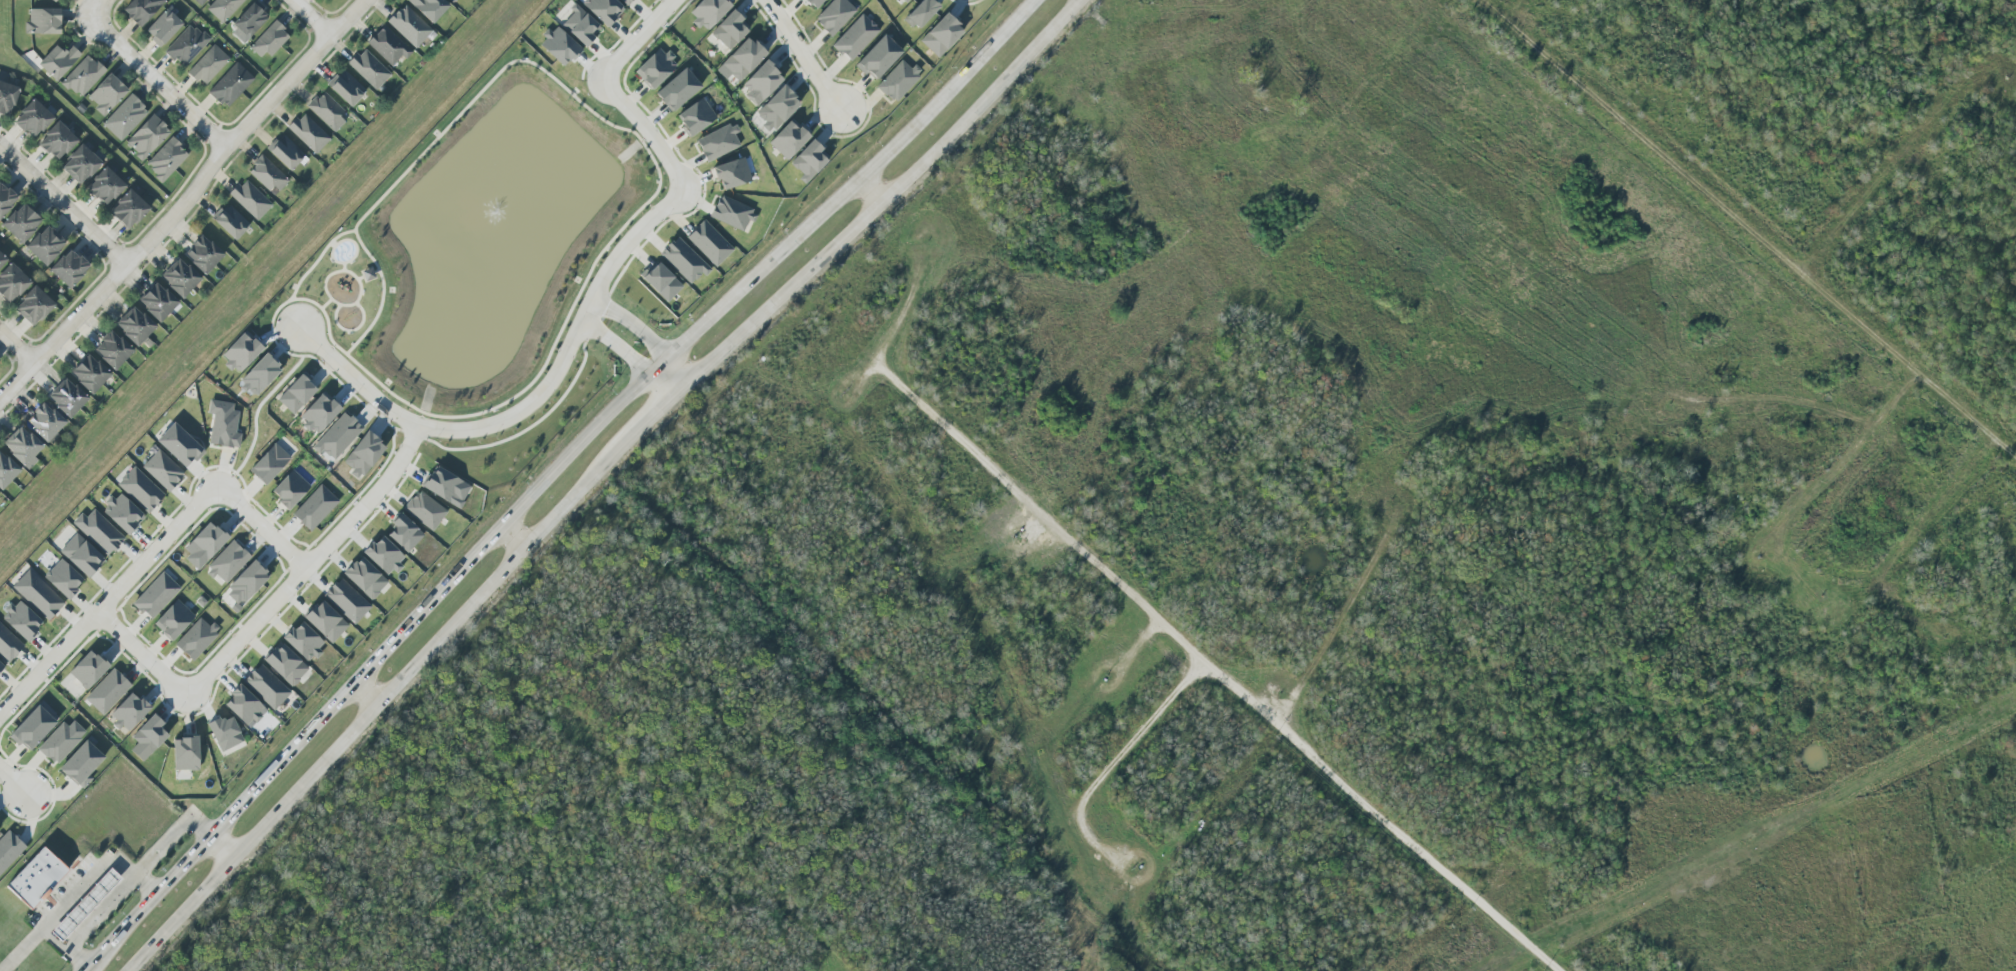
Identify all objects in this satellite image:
building: (54, 1)
building: (451, 1)
building: (904, 1)
building: (199, 2)
building: (626, 2)
building: (814, 3)
road: (966, 3)
road: (96, 8)
building: (223, 8)
building: (429, 8)
building: (603, 9)
building: (142, 10)
building: (708, 12)
building: (921, 13)
building: (834, 16)
road: (312, 17)
building: (250, 19)
building: (42, 21)
building: (580, 25)
building: (409, 26)
building: (163, 28)
building: (729, 30)
building: (941, 35)
building: (854, 37)
building: (269, 40)
road: (617, 40)
road: (635, 40)
building: (186, 45)
building: (388, 46)
building: (559, 46)
road: (802, 55)
building: (878, 57)
building: (744, 58)
building: (58, 61)
building: (208, 65)
building: (655, 68)
building: (369, 69)
building: (82, 76)
building: (762, 80)
building: (898, 80)
road: (157, 82)
building: (230, 85)
building: (345, 88)
building: (1, 89)
building: (678, 89)
building: (107, 94)
building: (8, 99)
building: (777, 109)
building: (326, 111)
building: (28, 114)
building: (125, 117)
building: (695, 117)
building: (38, 124)
road: (645, 131)
building: (308, 133)
building: (52, 135)
road: (850, 135)
building: (147, 137)
building: (789, 140)
building: (718, 142)
road: (432, 144)
building: (62, 145)
building: (284, 152)
road: (681, 158)
building: (76, 159)
building: (166, 159)
building: (808, 161)
building: (86, 168)
building: (731, 173)
building: (267, 174)
building: (100, 181)
road: (867, 189)
building: (2, 190)
building: (110, 191)
building: (250, 199)
building: (5, 202)
road: (184, 202)
building: (123, 204)
road: (63, 205)
building: (732, 213)
building: (133, 214)
building: (16, 218)
building: (230, 222)
building: (26, 227)
road: (1748, 227)
building: (39, 241)
building: (709, 243)
building: (49, 250)
building: (208, 250)
road: (354, 255)
building: (2, 260)
building: (198, 260)
road: (318, 260)
building: (683, 260)
building: (64, 264)
road: (343, 267)
road: (376, 272)
building: (74, 273)
building: (184, 273)
building: (368, 275)
road: (368, 275)
building: (7, 276)
road: (360, 278)
building: (660, 282)
building: (174, 283)
road: (358, 283)
building: (14, 288)
building: (162, 298)
building: (29, 300)
building: (152, 307)
building: (39, 310)
road: (581, 319)
building: (140, 321)
road: (897, 323)
road: (349, 330)
building: (130, 331)
road: (645, 337)
road: (330, 339)
building: (118, 346)
road: (17, 347)
building: (241, 352)
building: (108, 356)
road: (630, 358)
building: (95, 369)
building: (259, 375)
building: (85, 379)
building: (71, 393)
building: (296, 394)
road: (373, 401)
building: (62, 403)
road: (257, 409)
building: (319, 413)
building: (50, 417)
building: (223, 425)
building: (40, 427)
building: (337, 436)
building: (27, 442)
building: (179, 446)
building: (19, 453)
building: (363, 454)
building: (269, 464)
building: (8, 467)
road: (395, 469)
building: (162, 470)
road: (548, 477)
road: (595, 478)
building: (3, 480)
building: (446, 487)
building: (290, 489)
building: (139, 490)
building: (315, 507)
building: (424, 510)
building: (123, 513)
building: (98, 531)
road: (153, 533)
building: (404, 533)
road: (510, 539)
building: (204, 545)
road: (150, 554)
building: (80, 555)
building: (384, 555)
building: (228, 562)
building: (364, 578)
building: (62, 579)
building: (246, 584)
road: (139, 585)
road: (267, 592)
building: (37, 594)
building: (156, 595)
building: (346, 601)
road: (1349, 615)
building: (21, 620)
building: (174, 620)
building: (325, 621)
road: (241, 629)
road: (260, 635)
building: (196, 638)
building: (303, 641)
building: (8, 645)
road: (233, 645)
road: (1137, 647)
building: (285, 664)
building: (1, 667)
building: (88, 669)
road: (1219, 673)
building: (266, 686)
building: (108, 692)
road: (363, 694)
building: (245, 706)
building: (129, 712)
building: (33, 728)
building: (224, 733)
building: (149, 734)
building: (61, 742)
building: (185, 753)
road: (4, 755)
building: (82, 763)
road: (1115, 771)
road: (13, 781)
road: (53, 802)
road: (169, 834)
road: (219, 848)
building: (8, 849)
building: (36, 878)
road: (77, 891)
building: (84, 905)
road: (98, 909)
road: (66, 944)

